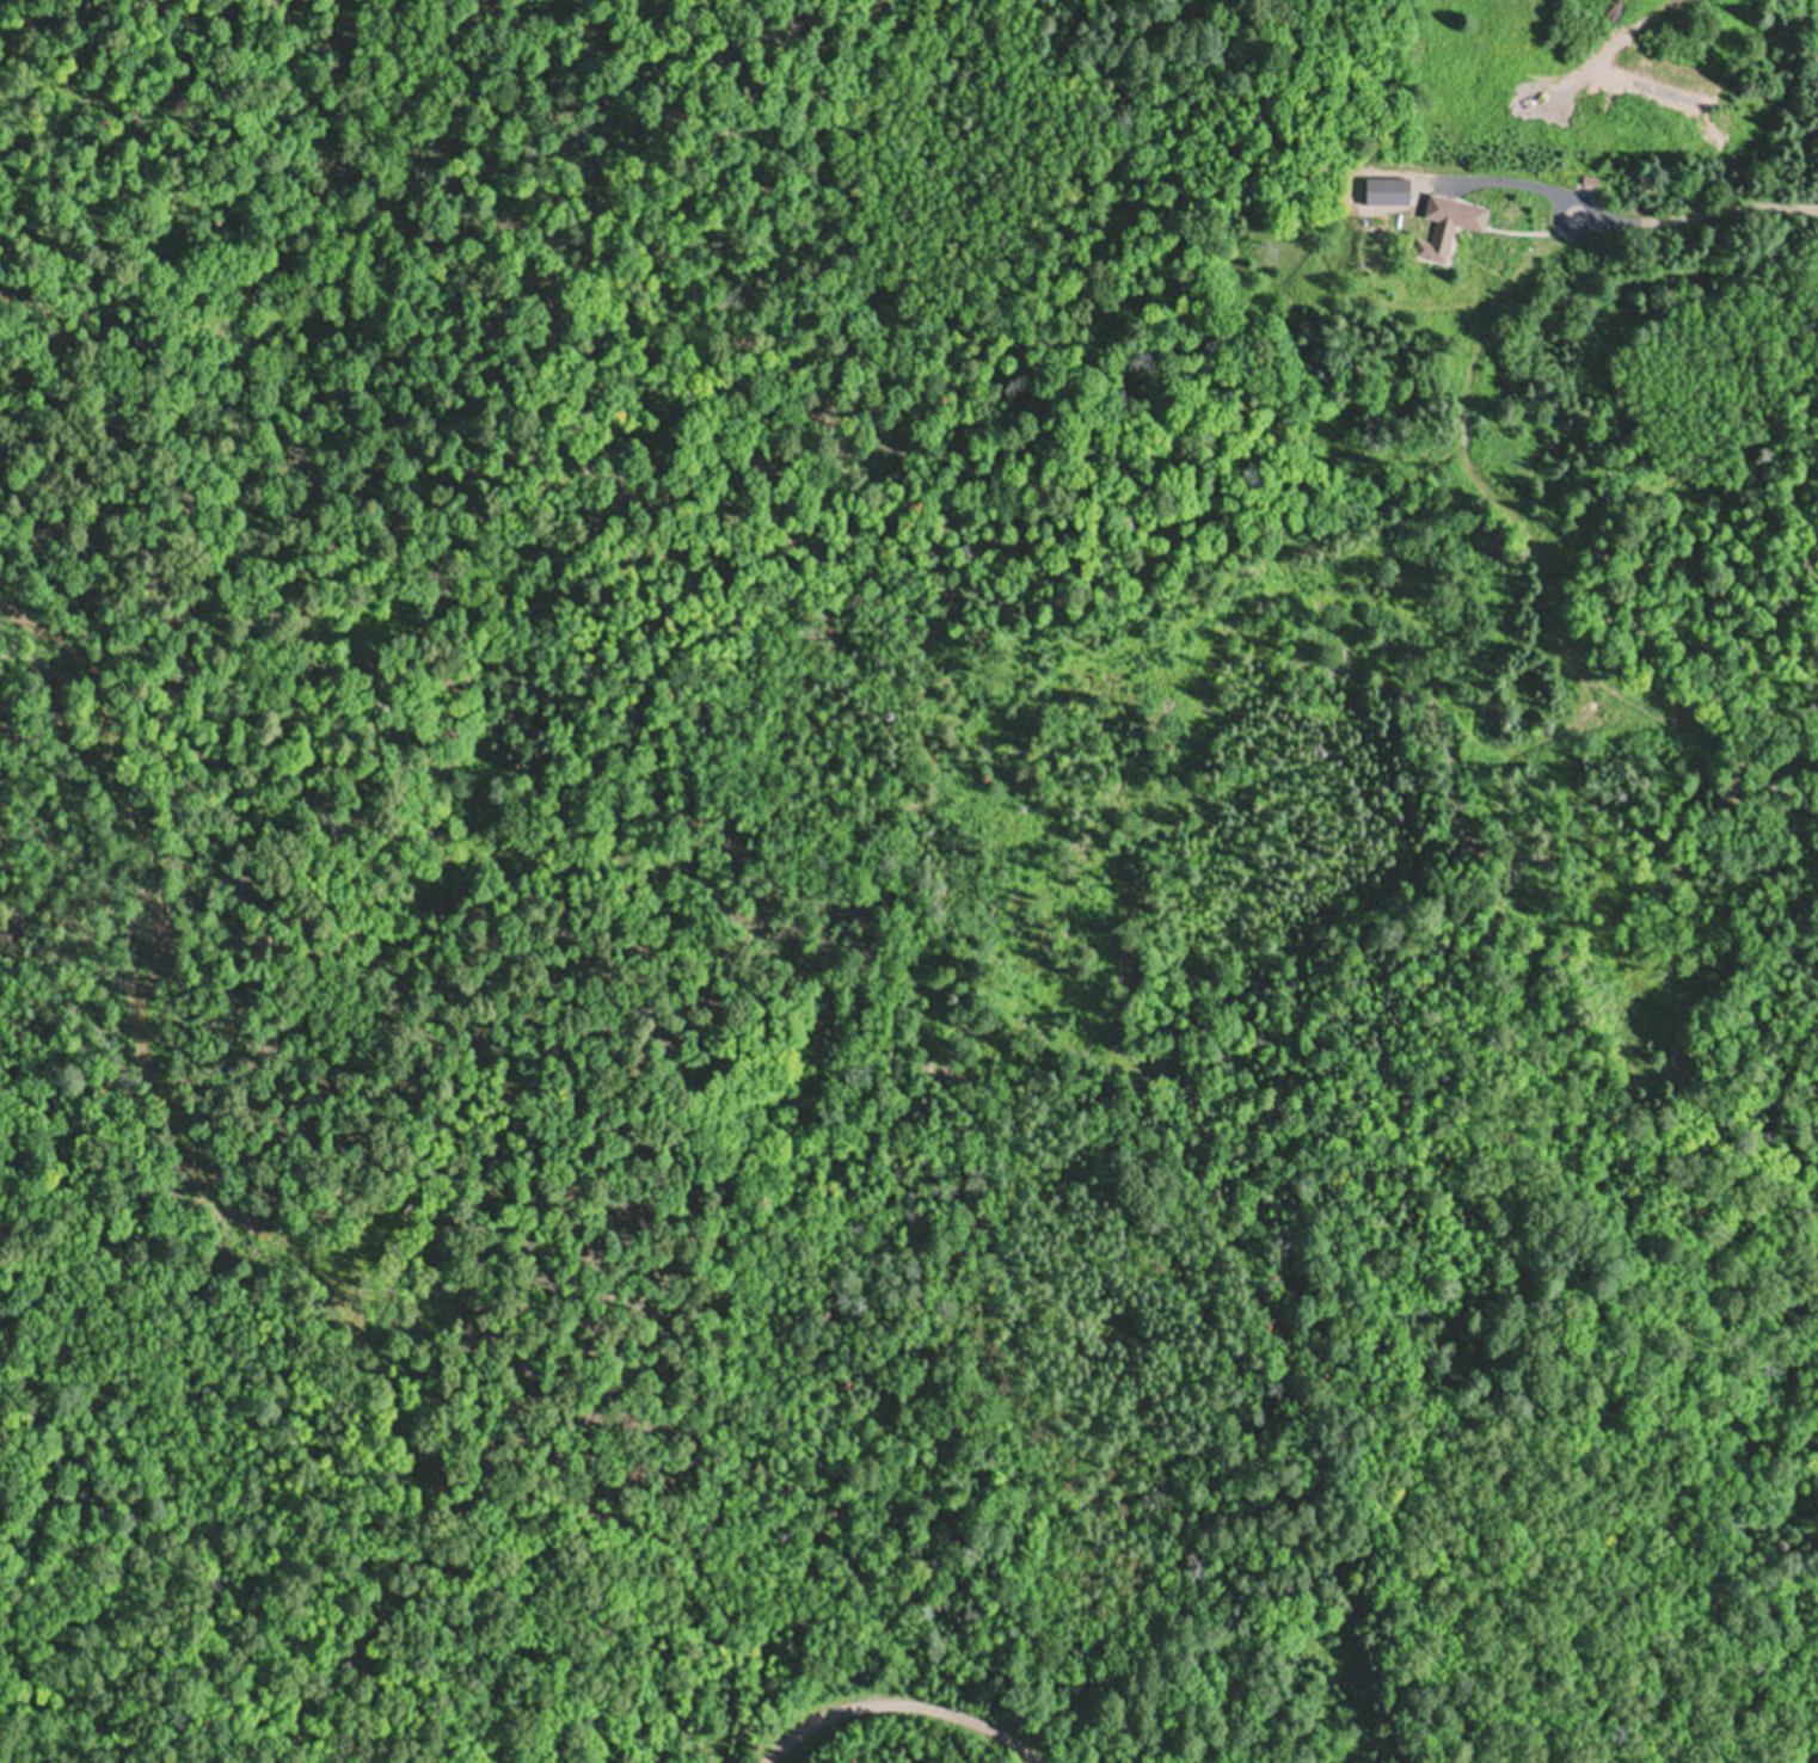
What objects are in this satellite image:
road: (898, 1679)

